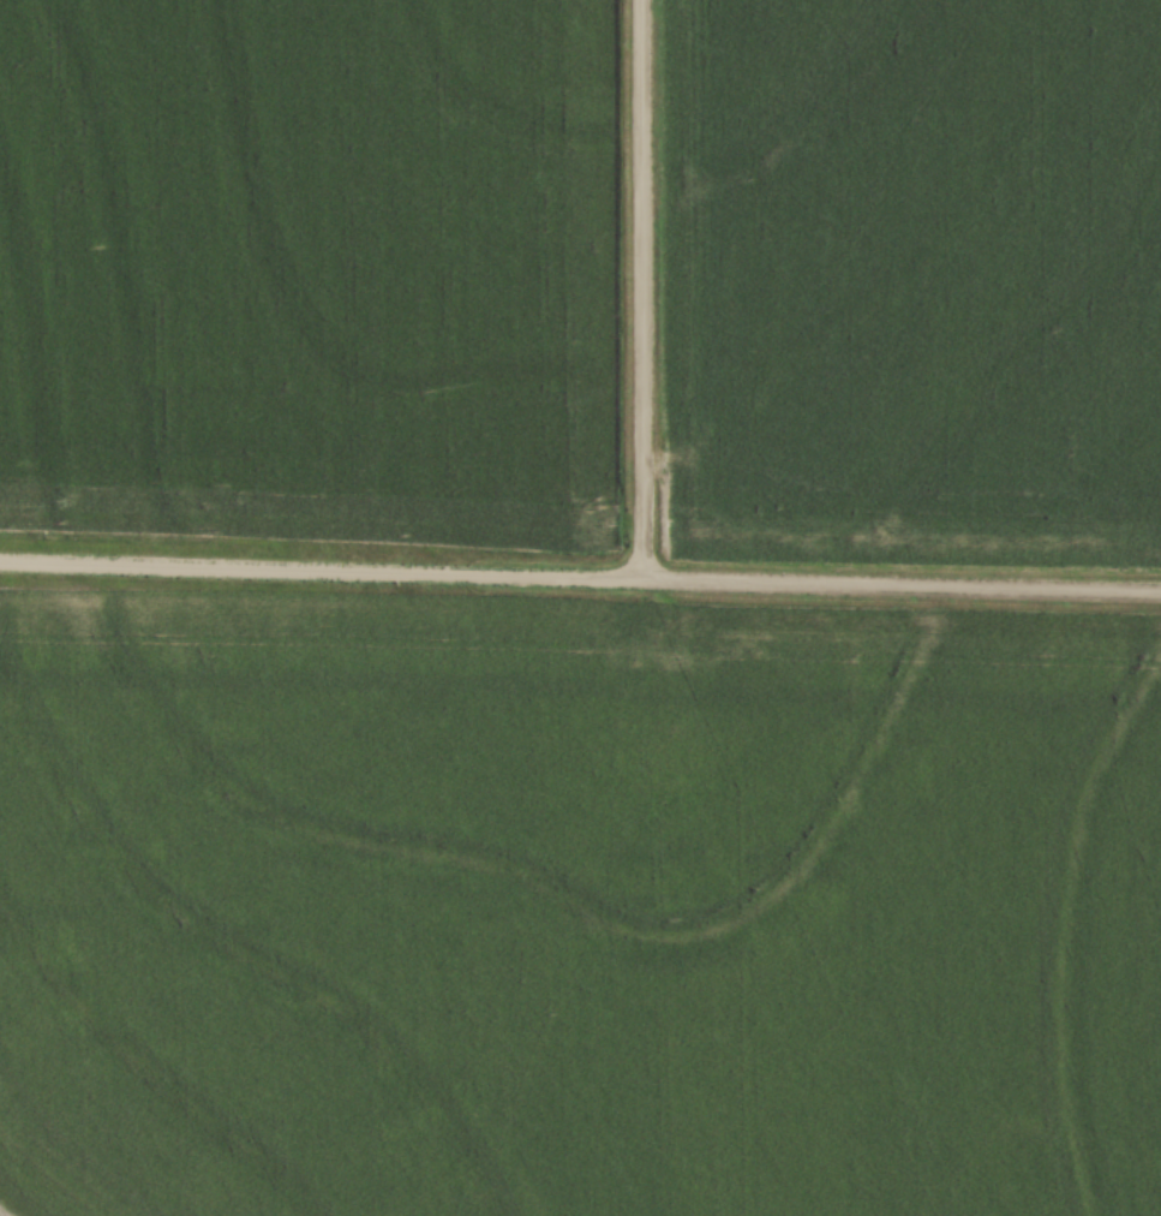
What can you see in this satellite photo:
road: (645, 288)
road: (580, 578)

